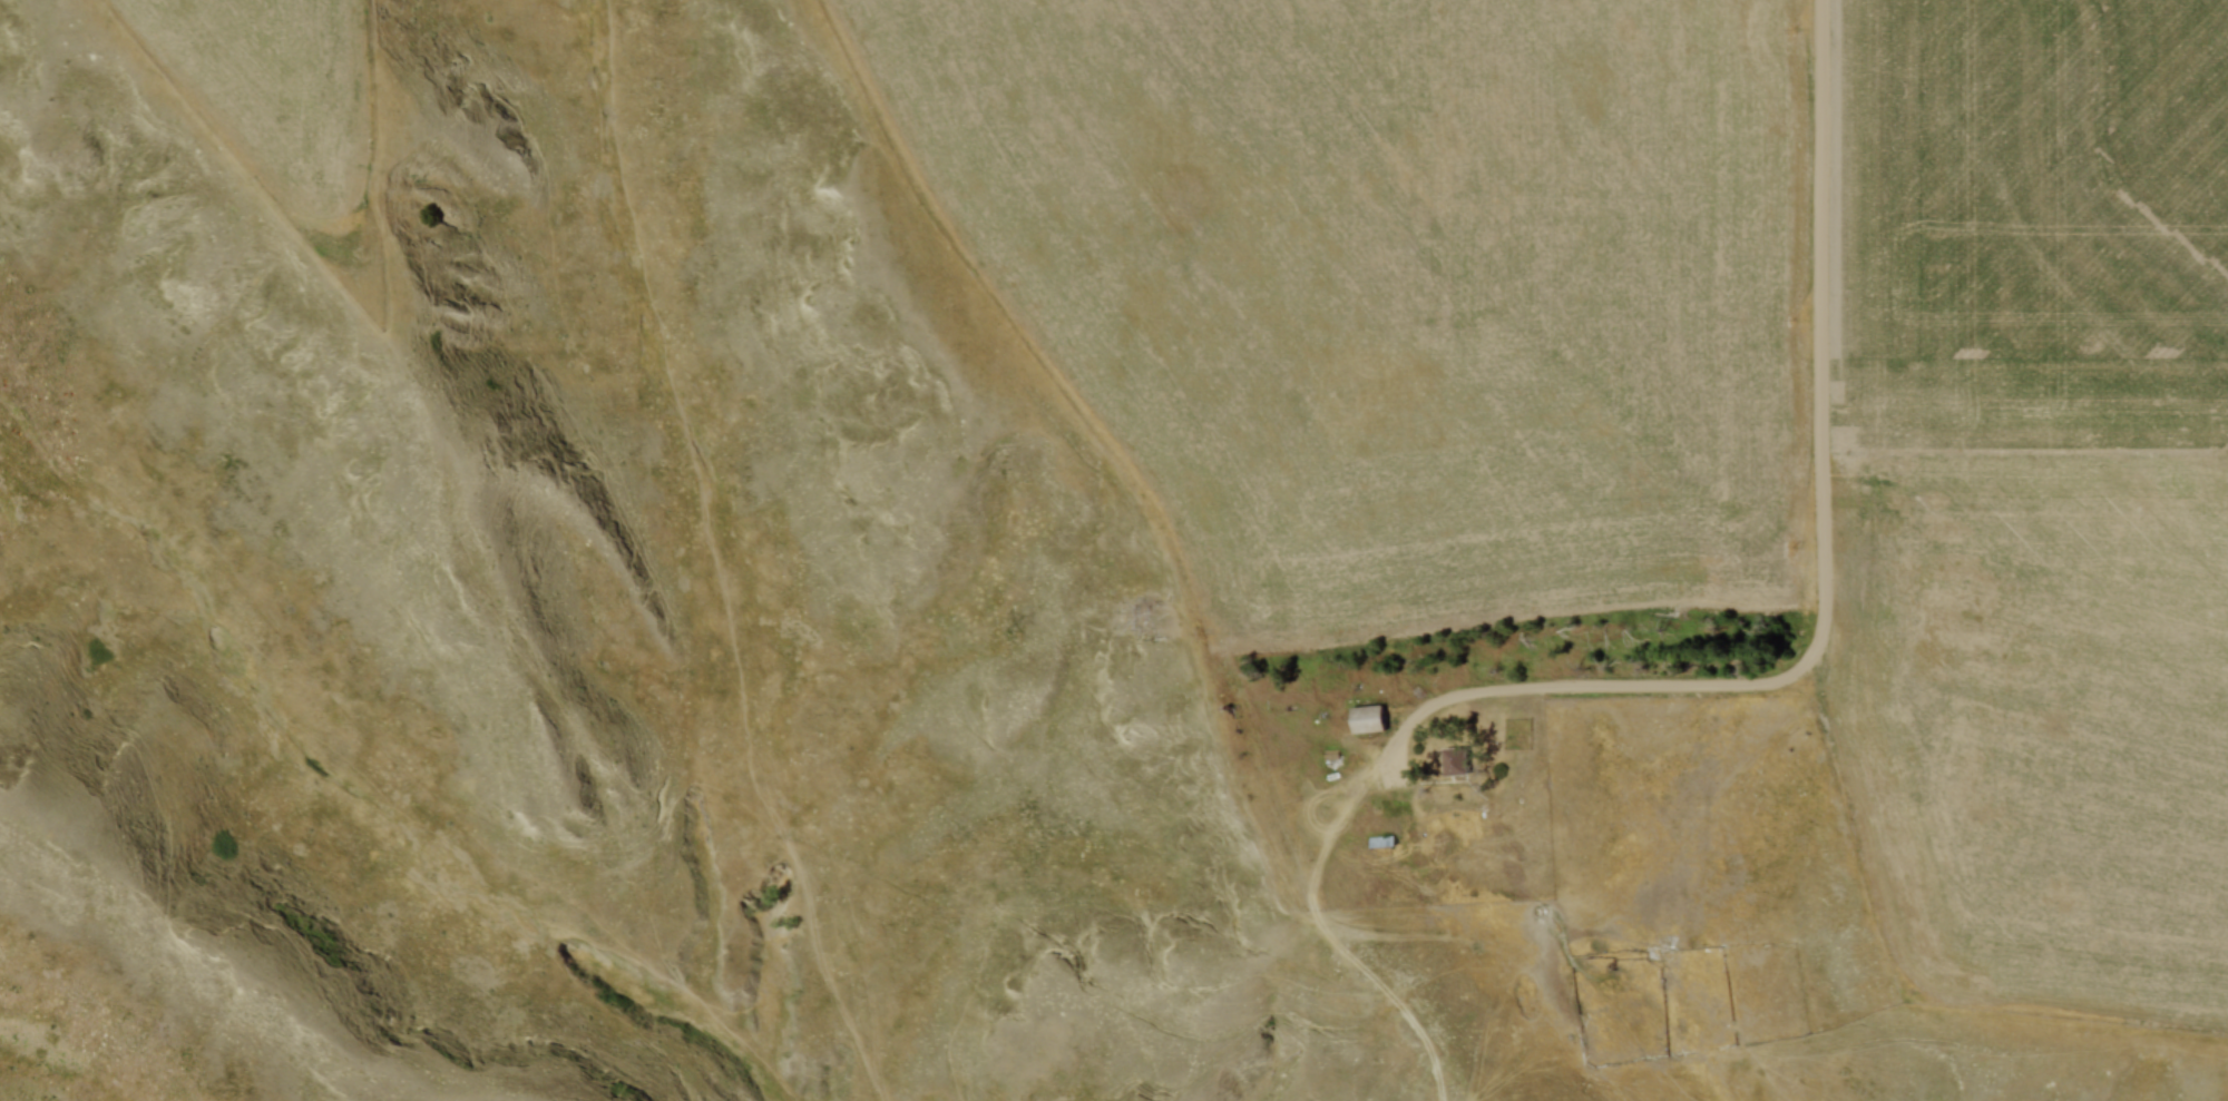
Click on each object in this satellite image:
road: (1821, 297)
road: (1612, 684)
building: (1368, 719)
building: (1456, 760)
building: (1380, 843)

